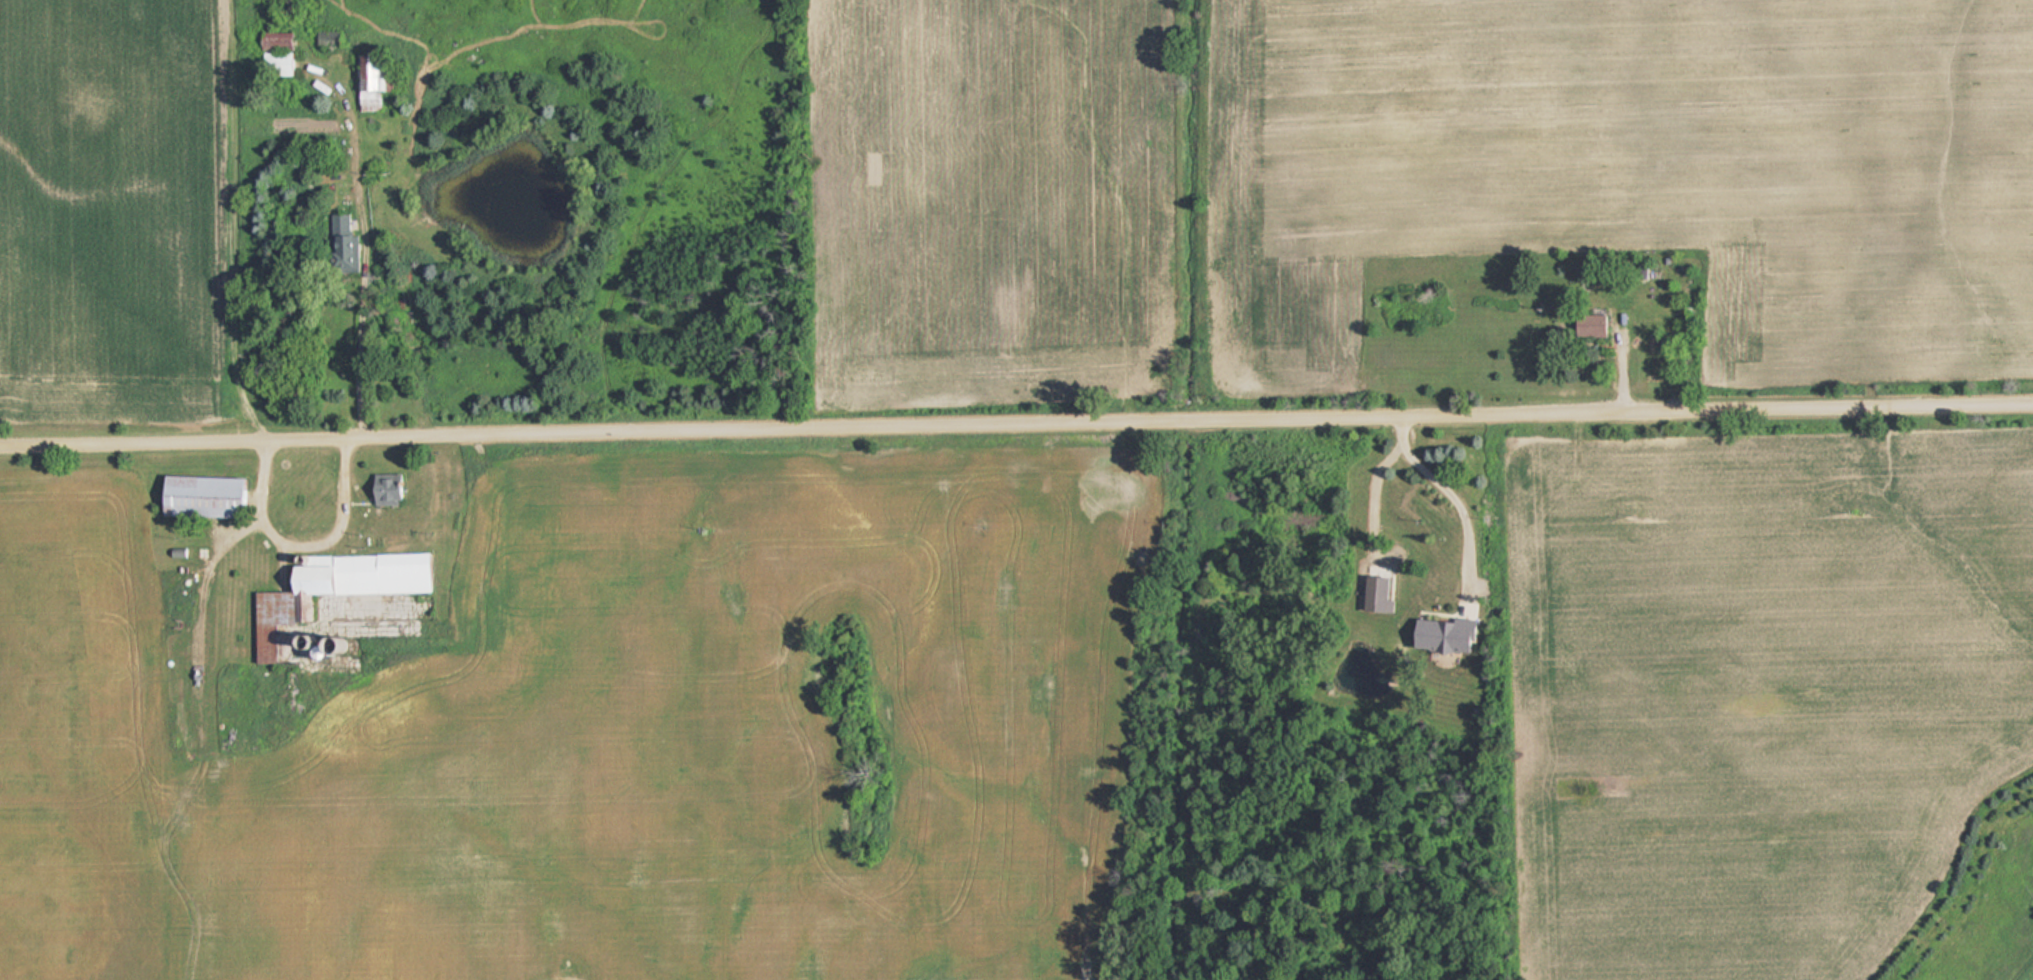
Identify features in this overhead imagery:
building: (369, 81)
building: (342, 244)
building: (1644, 271)
building: (1586, 326)
road: (1016, 413)
building: (384, 489)
building: (196, 495)
building: (324, 599)
building: (1449, 636)

